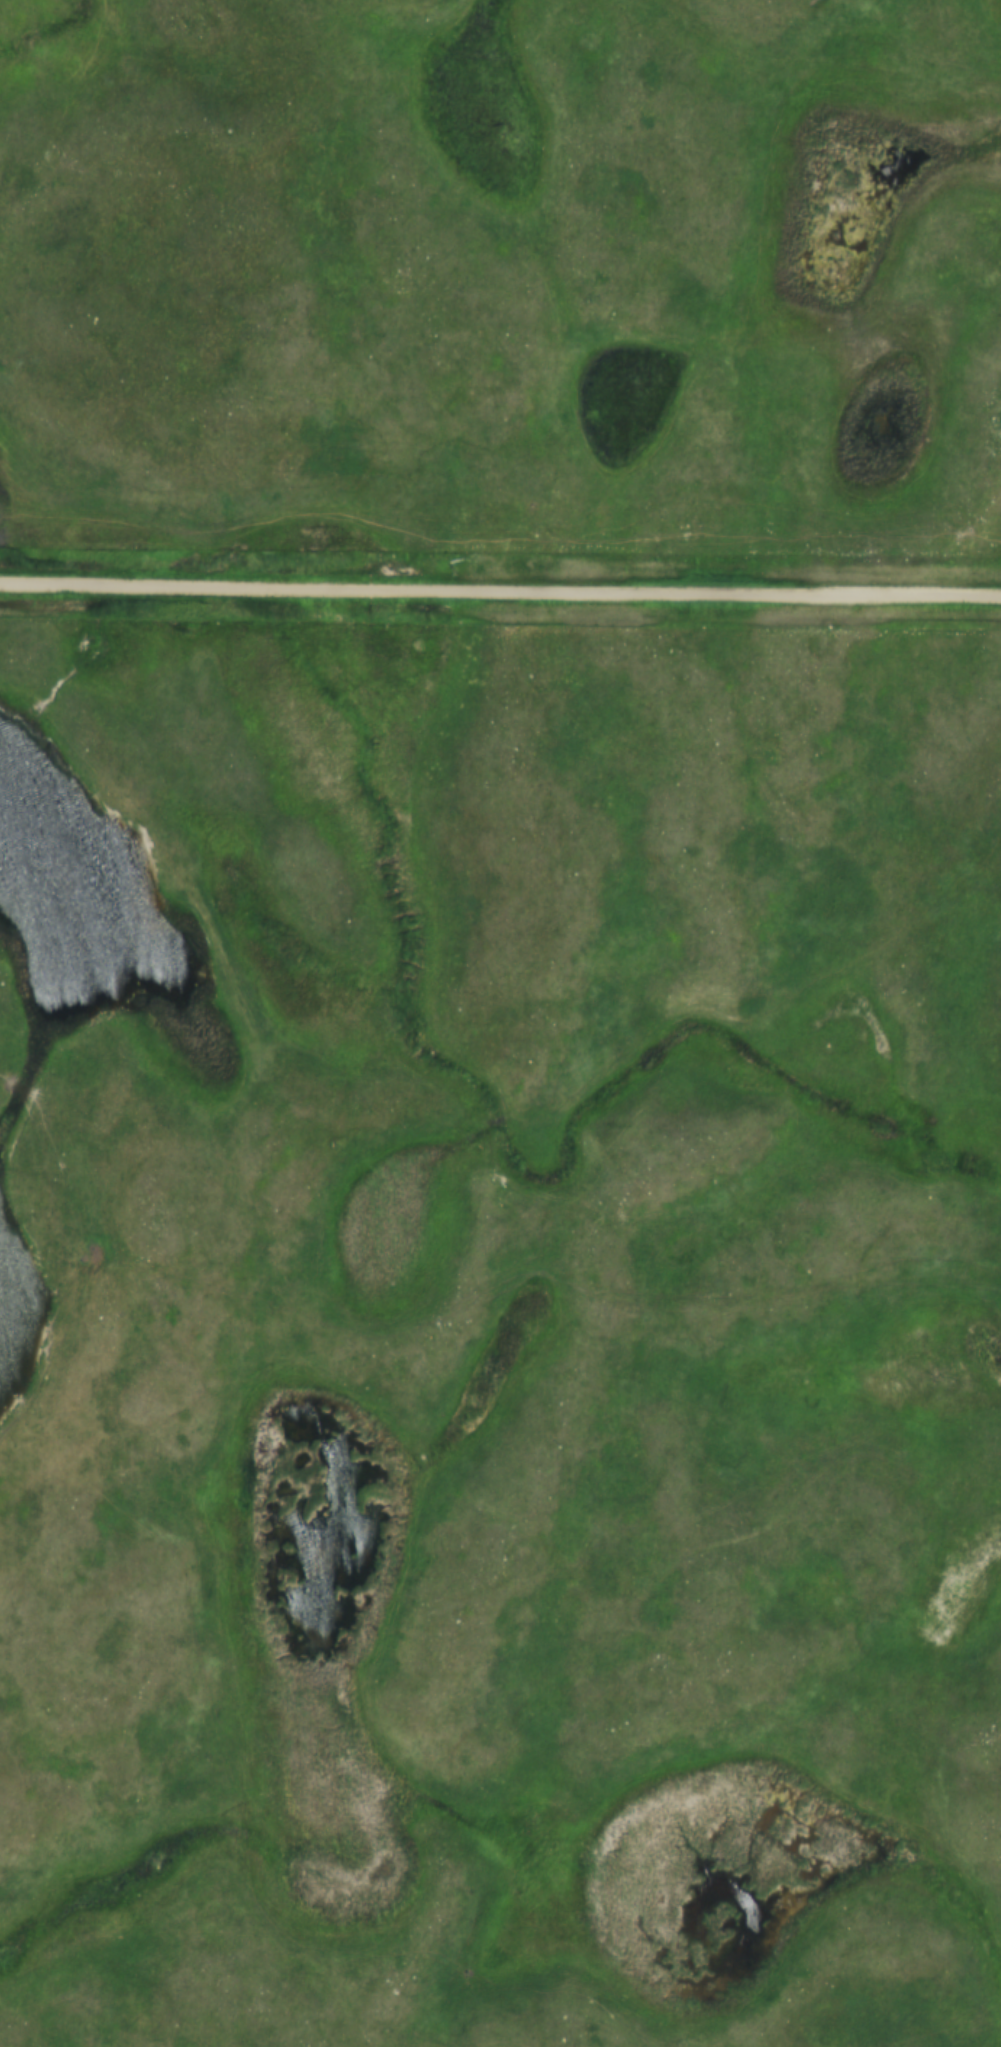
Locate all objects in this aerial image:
road: (500, 594)

